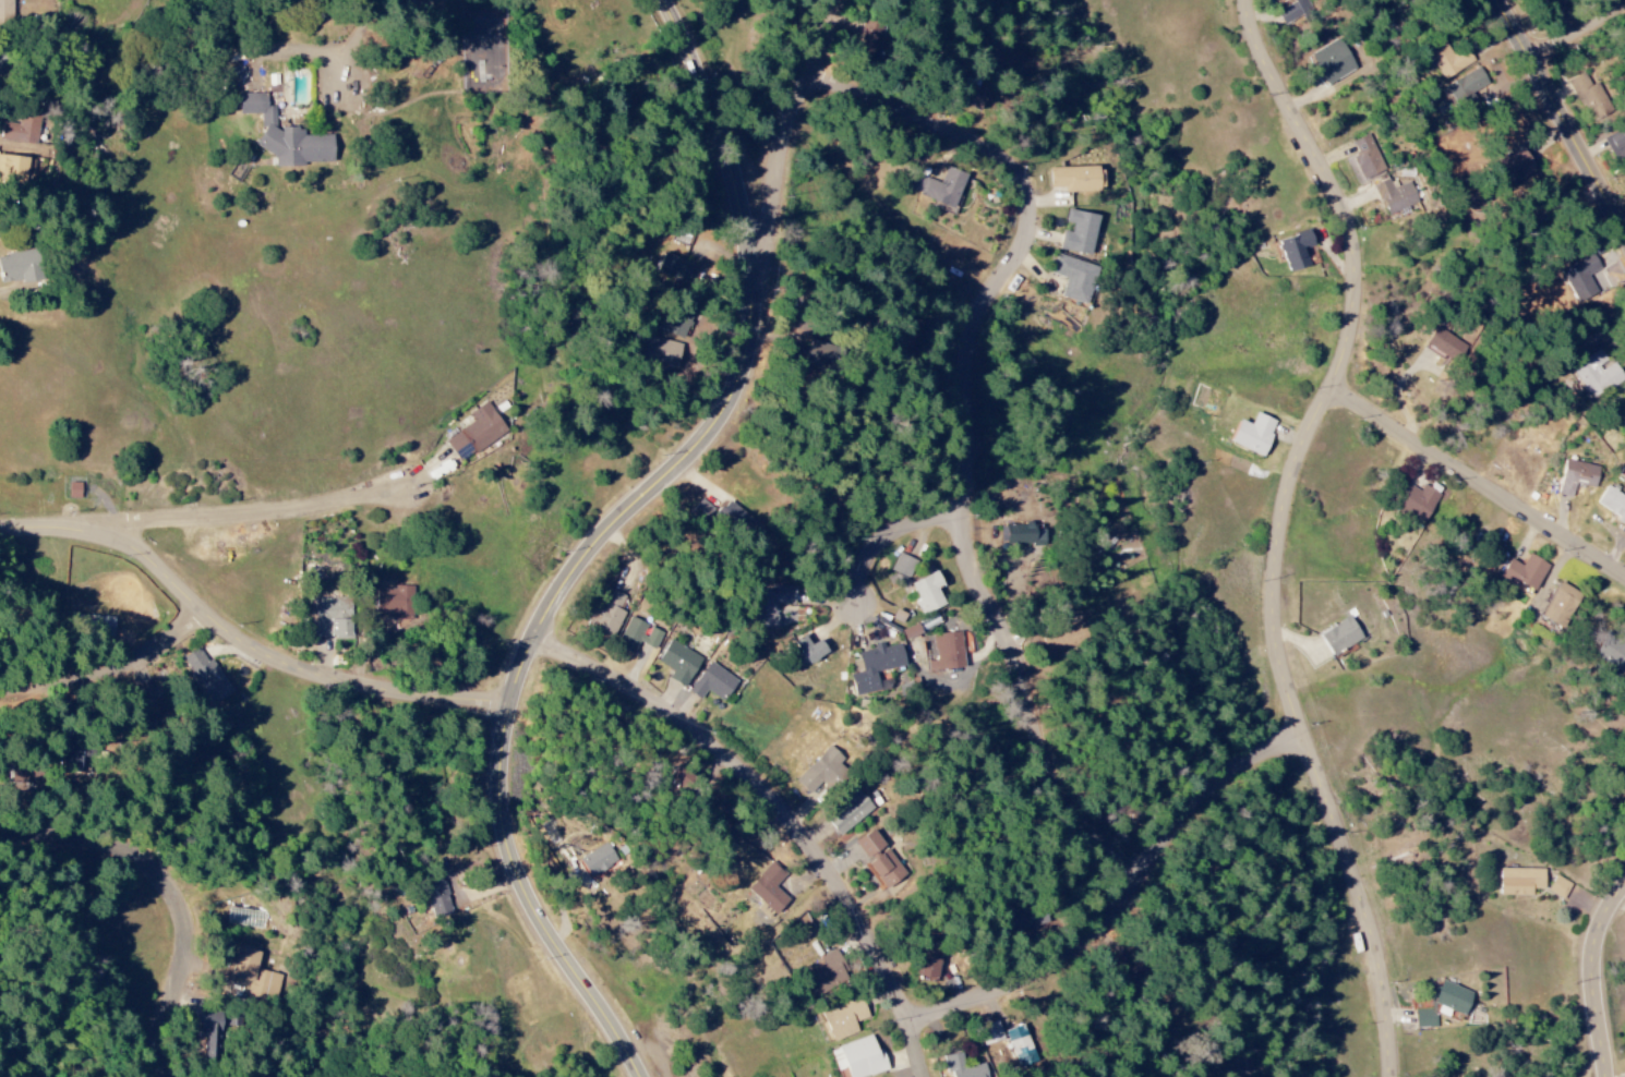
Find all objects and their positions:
building: (1551, 3)
building: (5, 9)
building: (1293, 11)
road: (1580, 32)
building: (874, 35)
building: (1447, 58)
building: (0, 60)
building: (1333, 61)
building: (1467, 87)
building: (976, 97)
building: (1589, 97)
road: (1564, 112)
building: (23, 130)
building: (286, 136)
road: (791, 141)
building: (1614, 144)
building: (1367, 157)
building: (14, 165)
building: (1076, 179)
building: (939, 186)
building: (1395, 196)
building: (1079, 232)
building: (1296, 251)
building: (21, 267)
building: (675, 268)
building: (1073, 277)
building: (1580, 278)
building: (674, 324)
building: (1446, 344)
building: (666, 353)
building: (823, 353)
building: (1597, 374)
road: (972, 426)
building: (477, 433)
building: (1253, 435)
building: (1577, 476)
road: (1482, 480)
building: (1418, 504)
building: (1612, 504)
road: (255, 513)
building: (738, 521)
road: (1283, 528)
road: (613, 533)
building: (1024, 535)
road: (896, 536)
building: (902, 566)
building: (1525, 572)
building: (928, 593)
building: (395, 602)
building: (772, 605)
building: (1560, 605)
building: (610, 614)
building: (332, 618)
building: (900, 619)
building: (99, 625)
building: (911, 631)
building: (636, 636)
road: (248, 637)
building: (1339, 637)
building: (811, 649)
building: (947, 652)
building: (1611, 652)
building: (679, 663)
building: (877, 668)
road: (113, 669)
building: (206, 677)
building: (712, 683)
building: (820, 772)
road: (790, 811)
building: (850, 813)
building: (598, 860)
building: (879, 860)
building: (1520, 882)
building: (1558, 887)
road: (177, 888)
building: (769, 888)
building: (438, 899)
road: (1127, 899)
building: (1023, 920)
building: (930, 961)
building: (828, 975)
building: (254, 976)
road: (1598, 980)
building: (1451, 1000)
building: (843, 1018)
building: (1423, 1019)
building: (210, 1036)
building: (1018, 1040)
building: (858, 1058)
building: (961, 1067)

